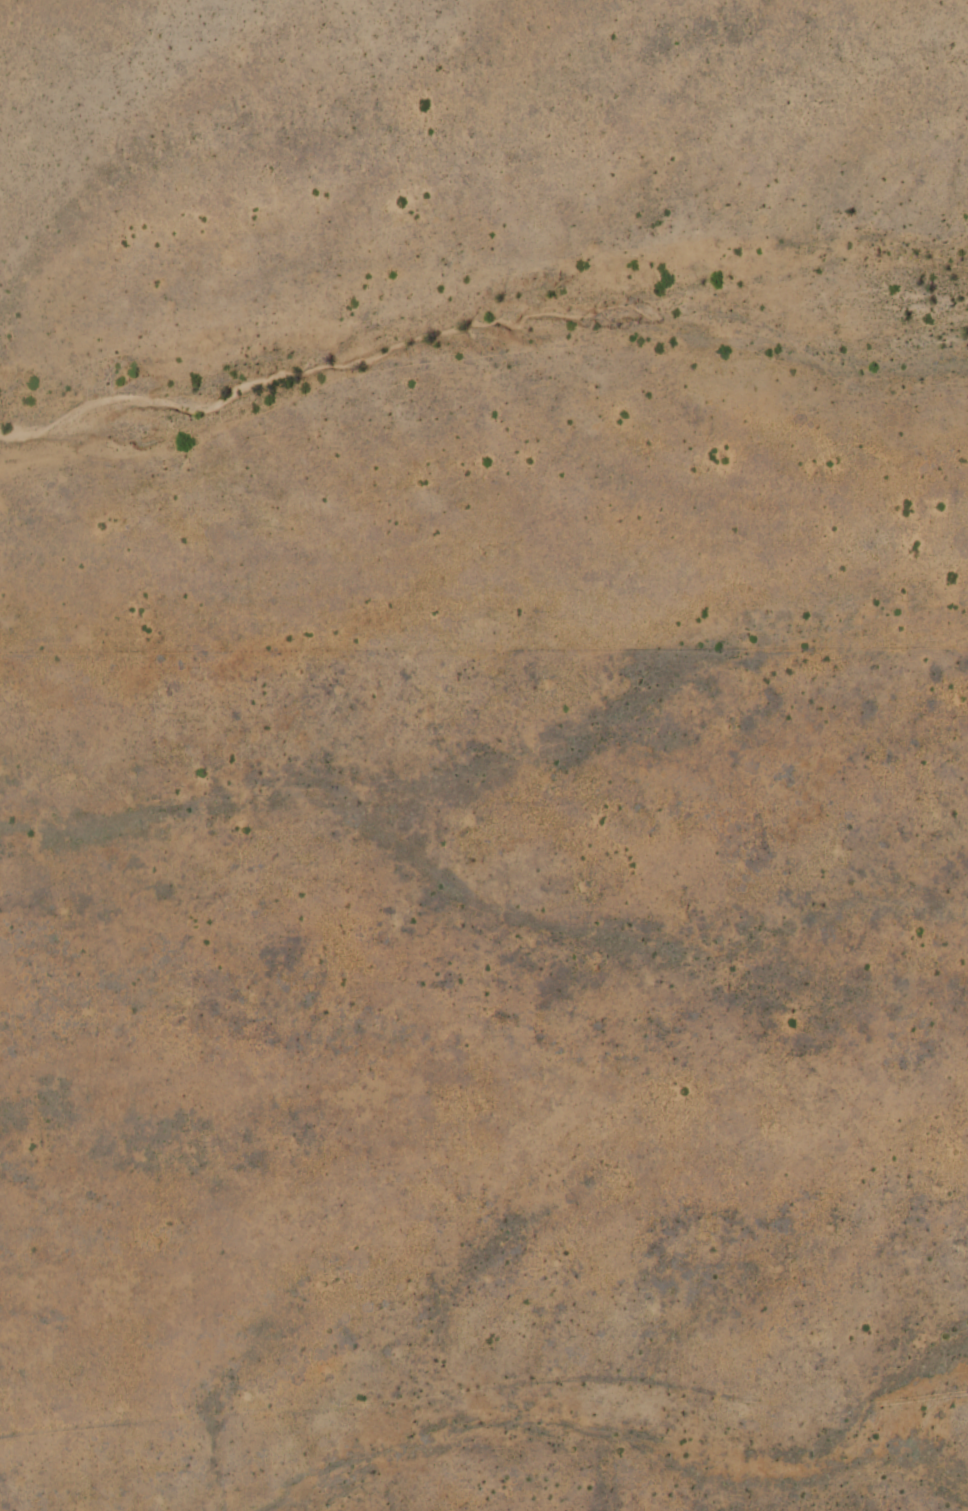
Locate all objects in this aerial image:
road: (483, 1376)

